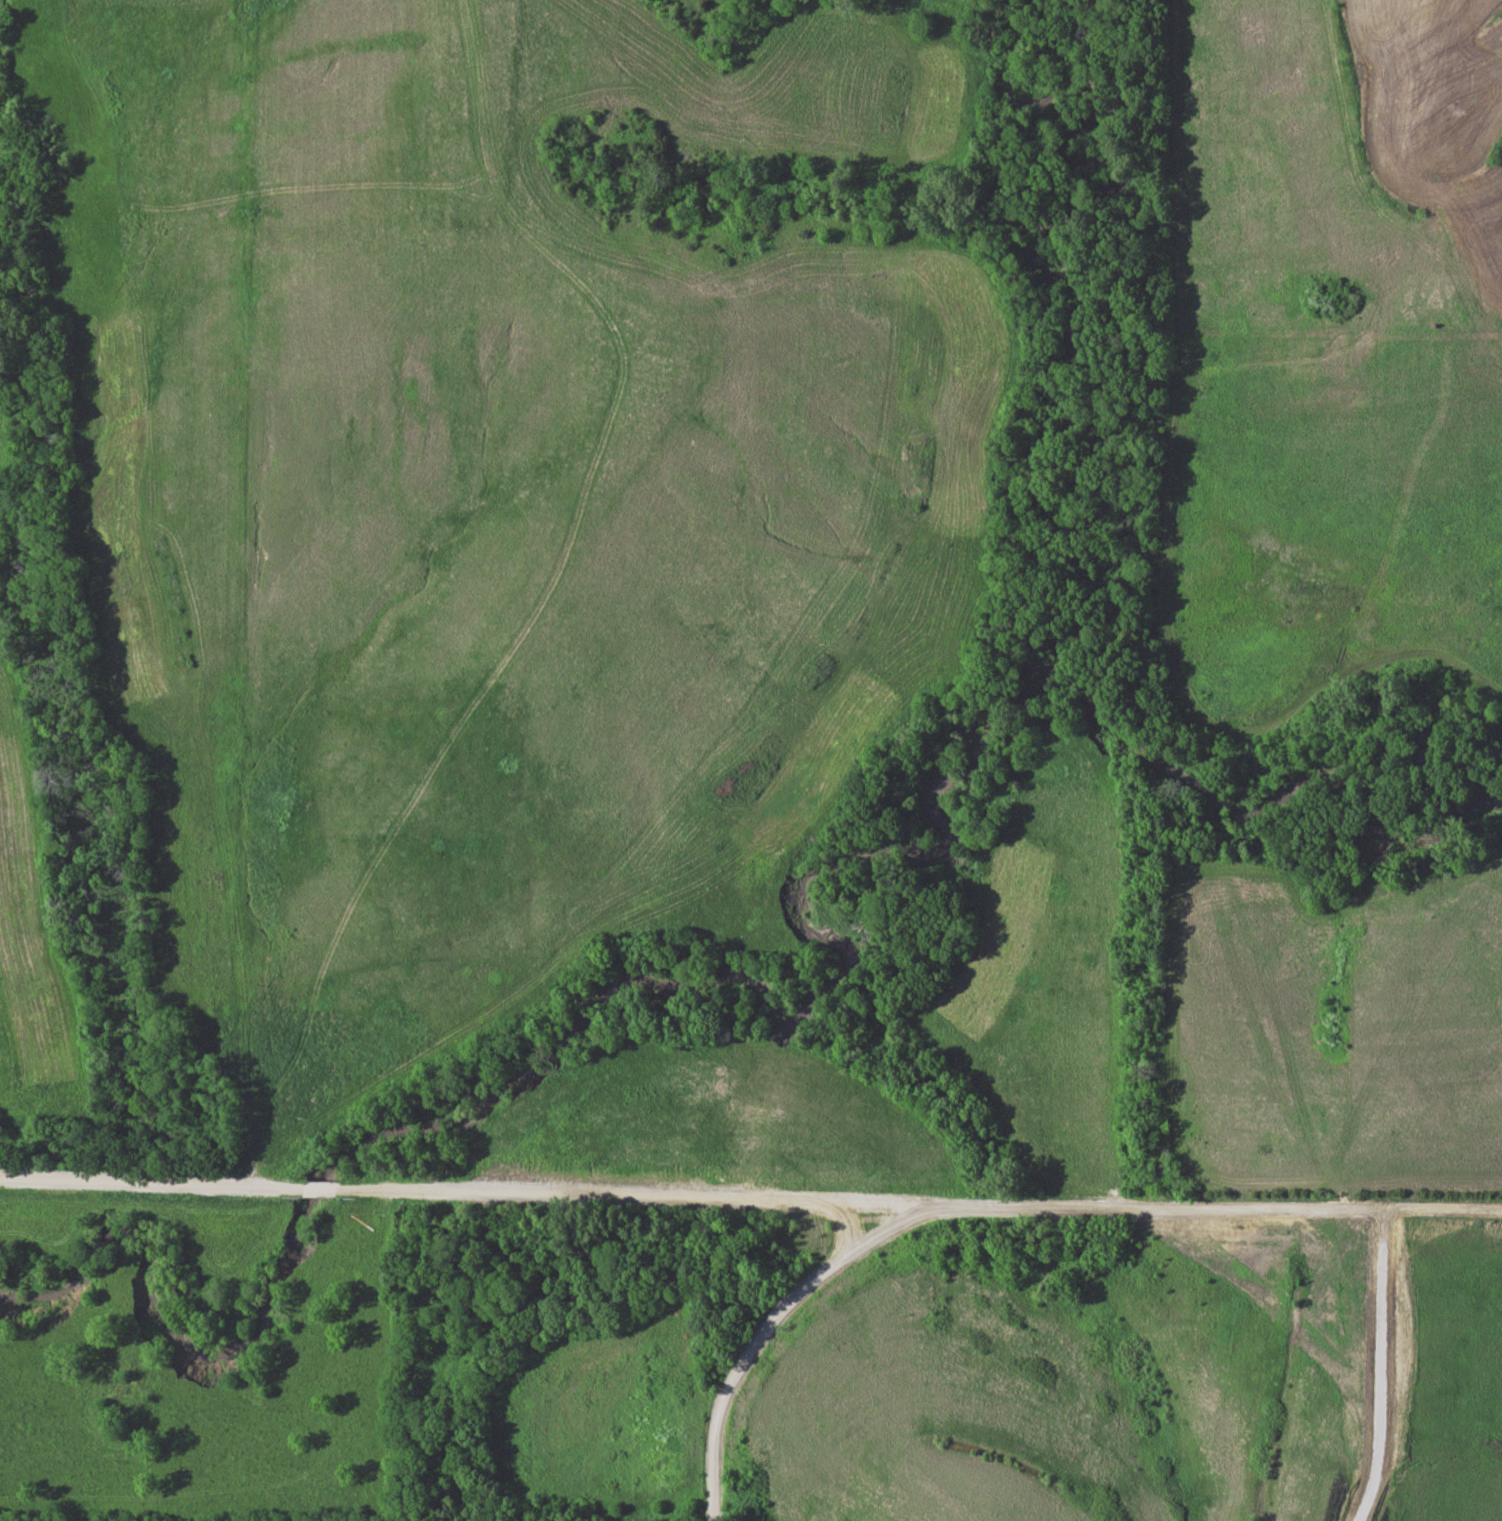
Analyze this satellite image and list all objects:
road: (151, 1184)
road: (320, 1189)
road: (919, 1204)
road: (848, 1222)
road: (765, 1325)

